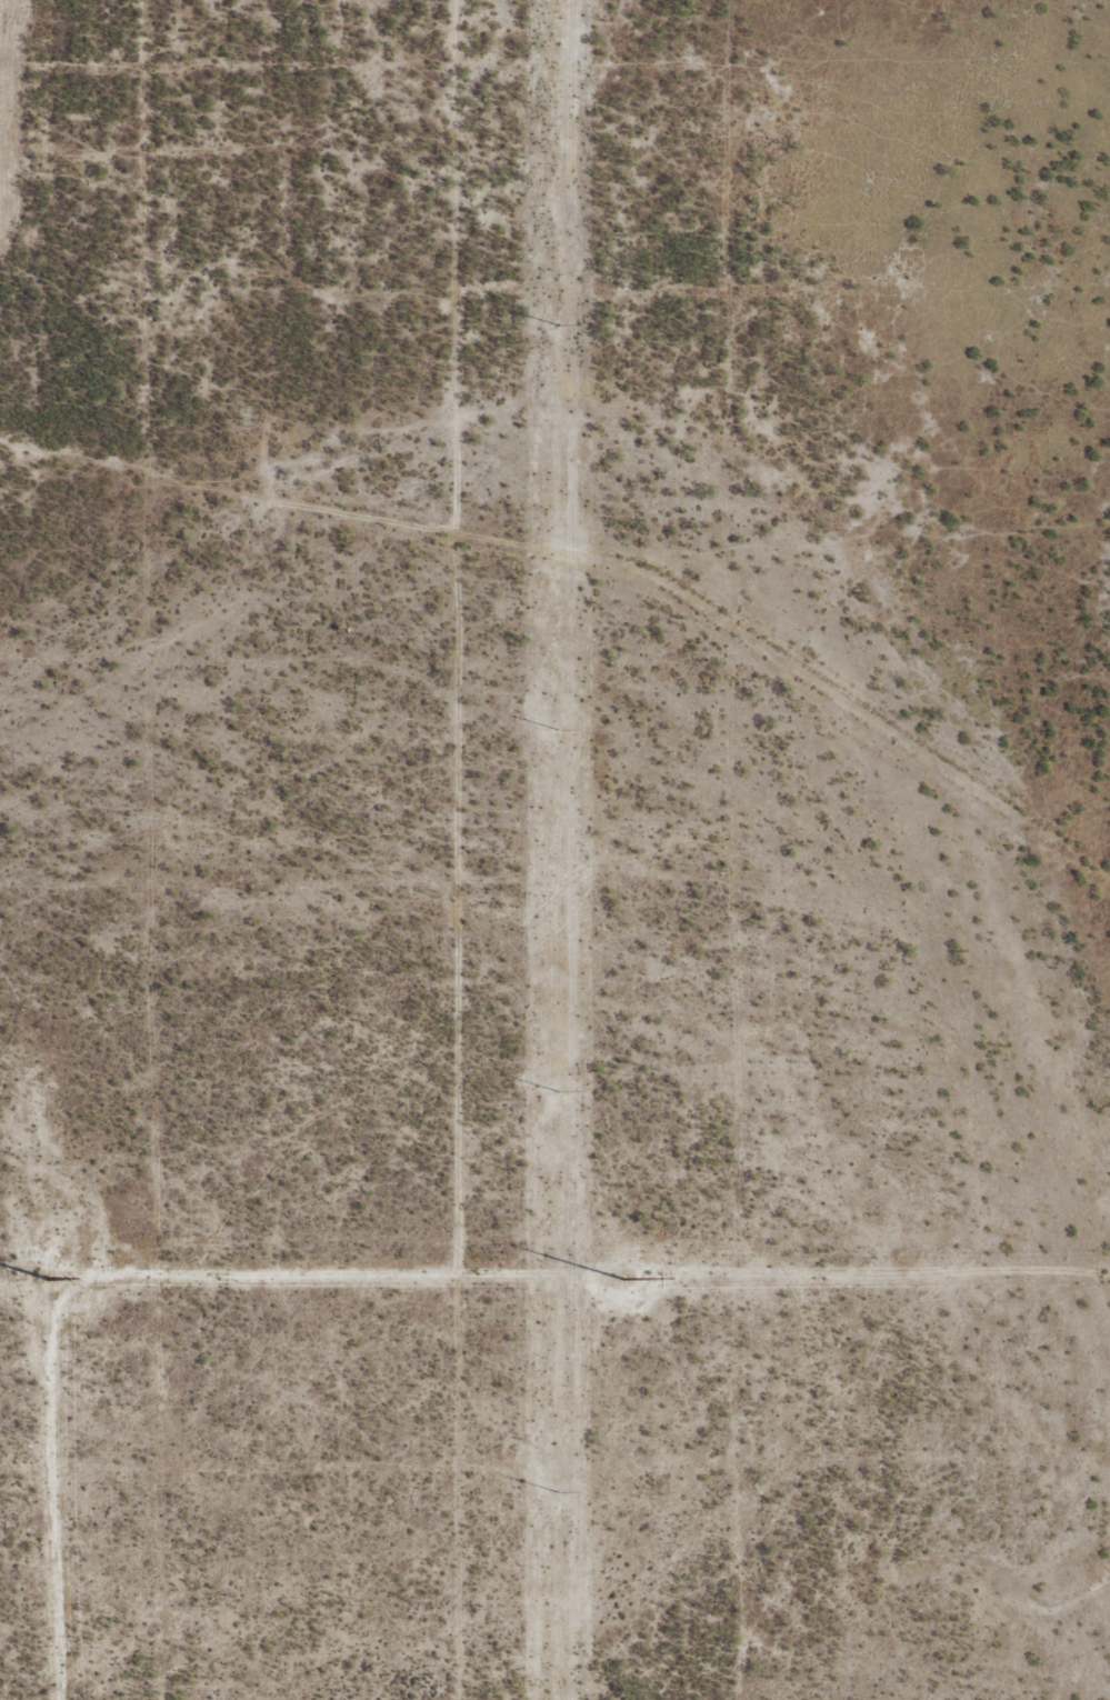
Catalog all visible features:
power tower: (558, 318)
power tower: (557, 719)
power tower: (557, 1084)
power tower: (558, 1484)

